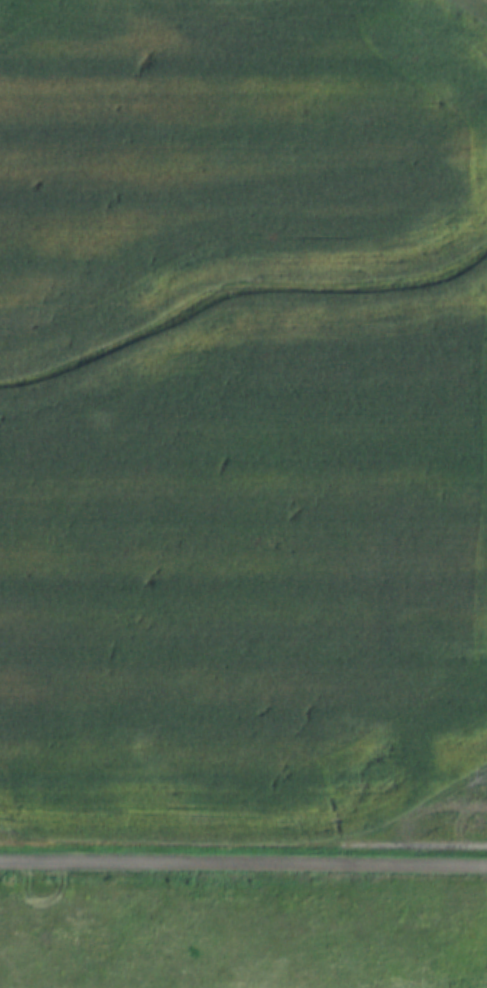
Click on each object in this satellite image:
road: (243, 865)

